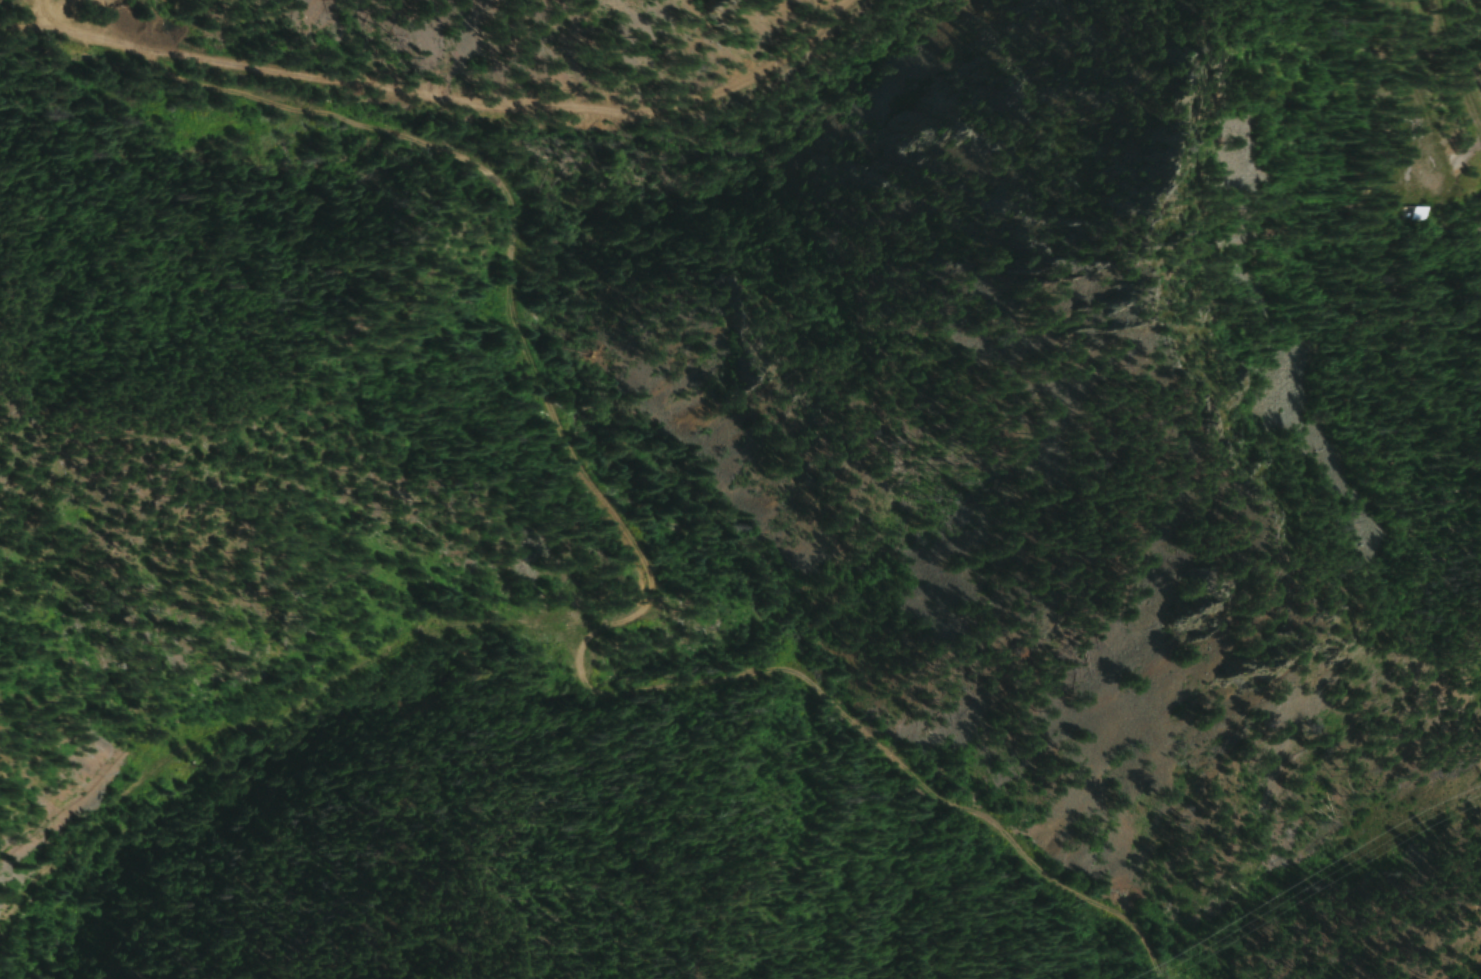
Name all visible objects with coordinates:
road: (446, 99)
building: (1416, 214)

